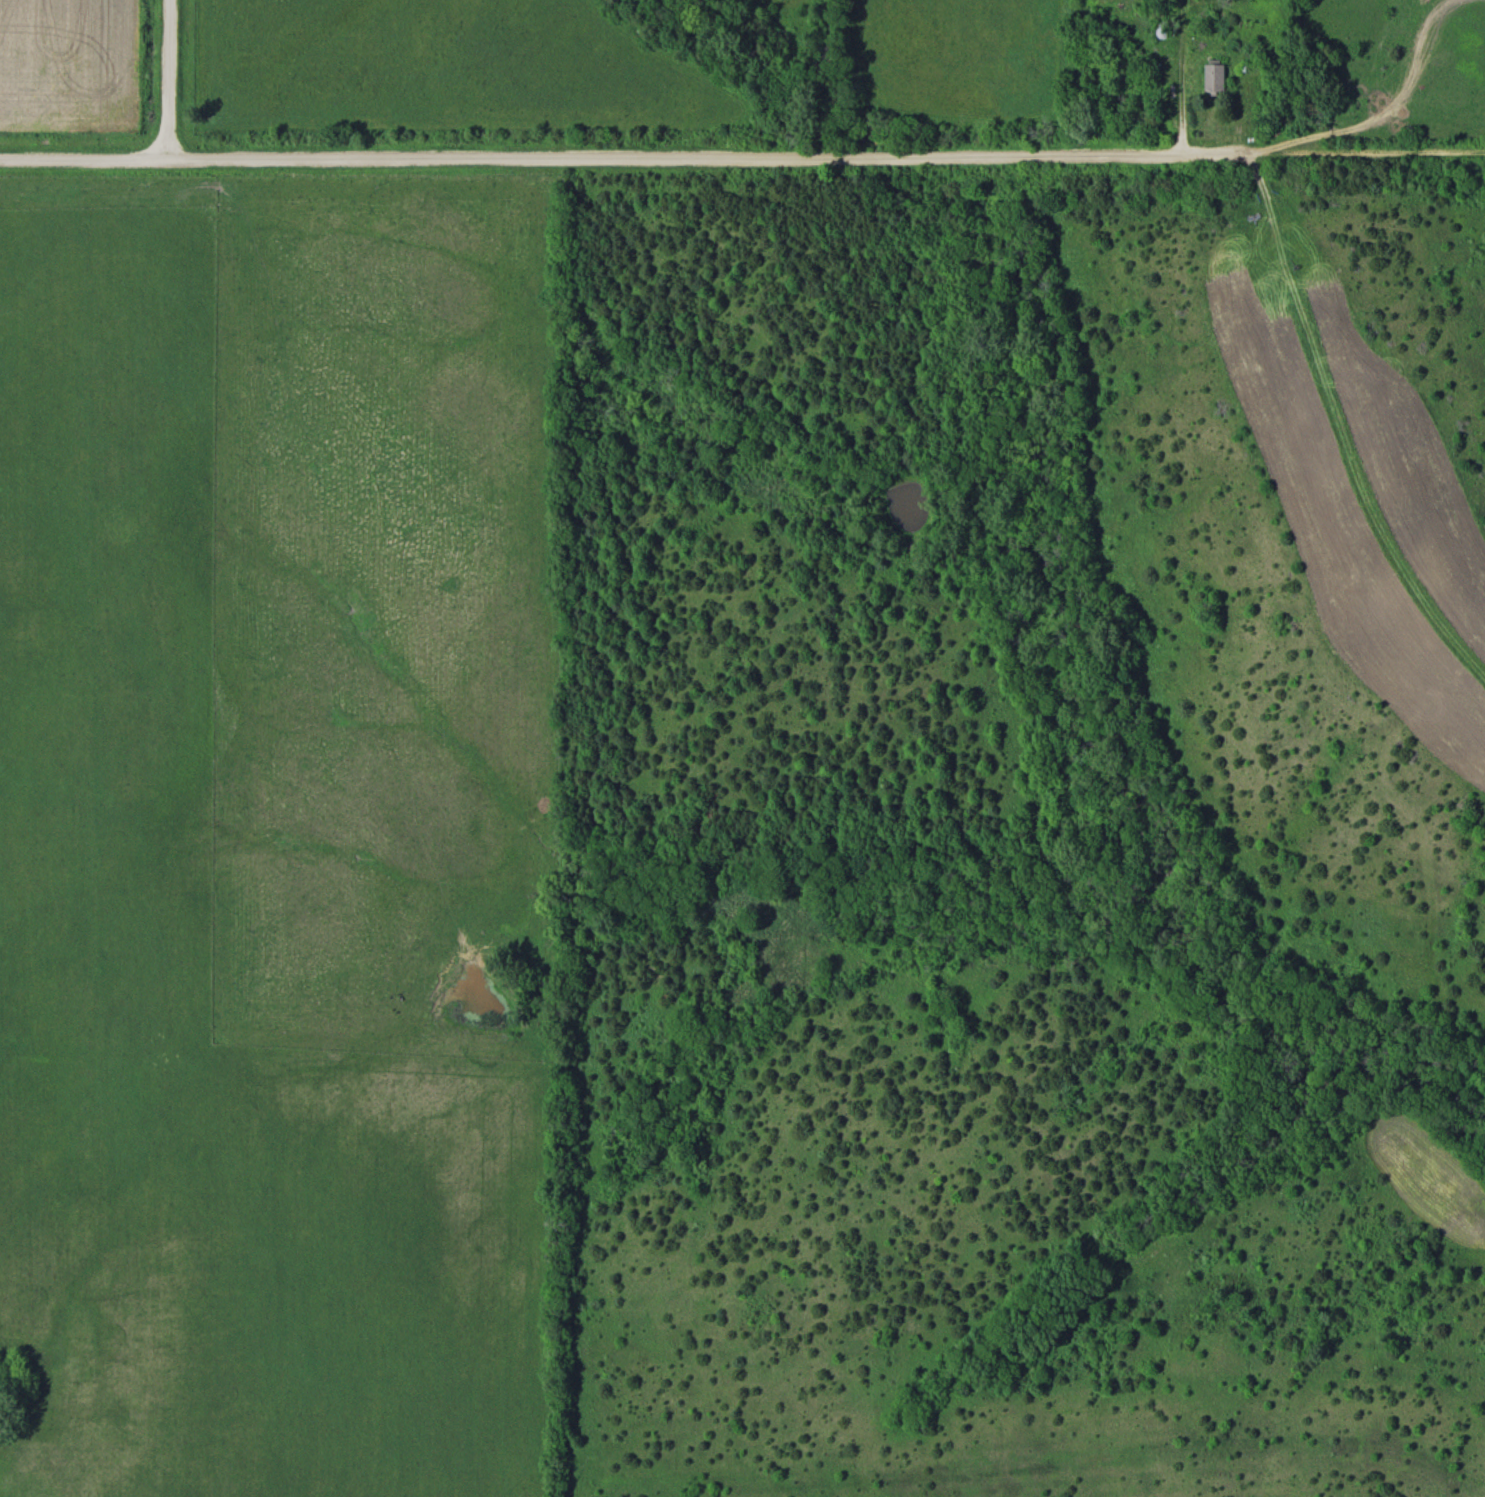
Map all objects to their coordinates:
building: (1211, 76)
road: (1183, 77)
road: (170, 81)
road: (821, 158)
road: (78, 162)

